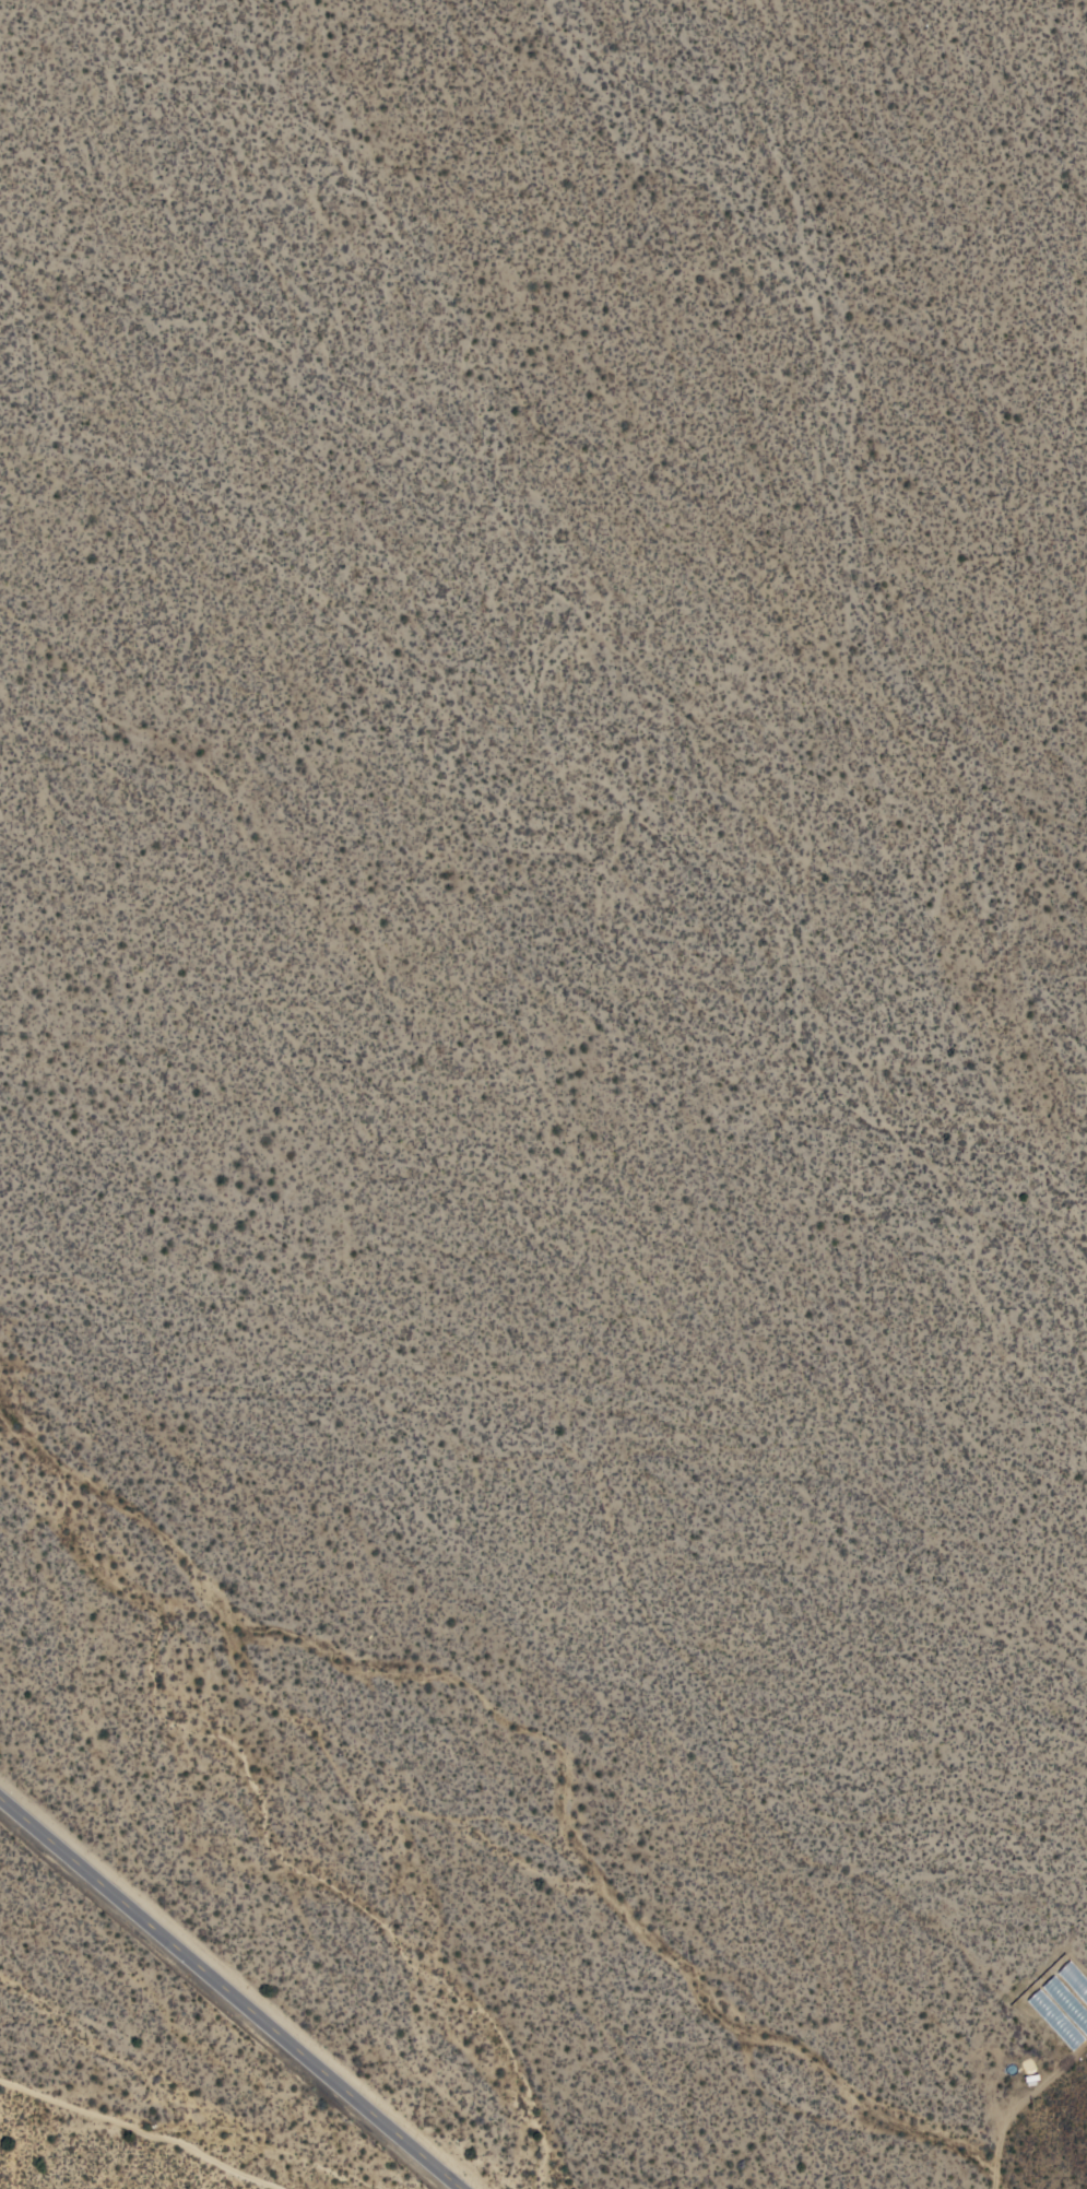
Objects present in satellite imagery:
road: (233, 1992)
road: (137, 2131)

